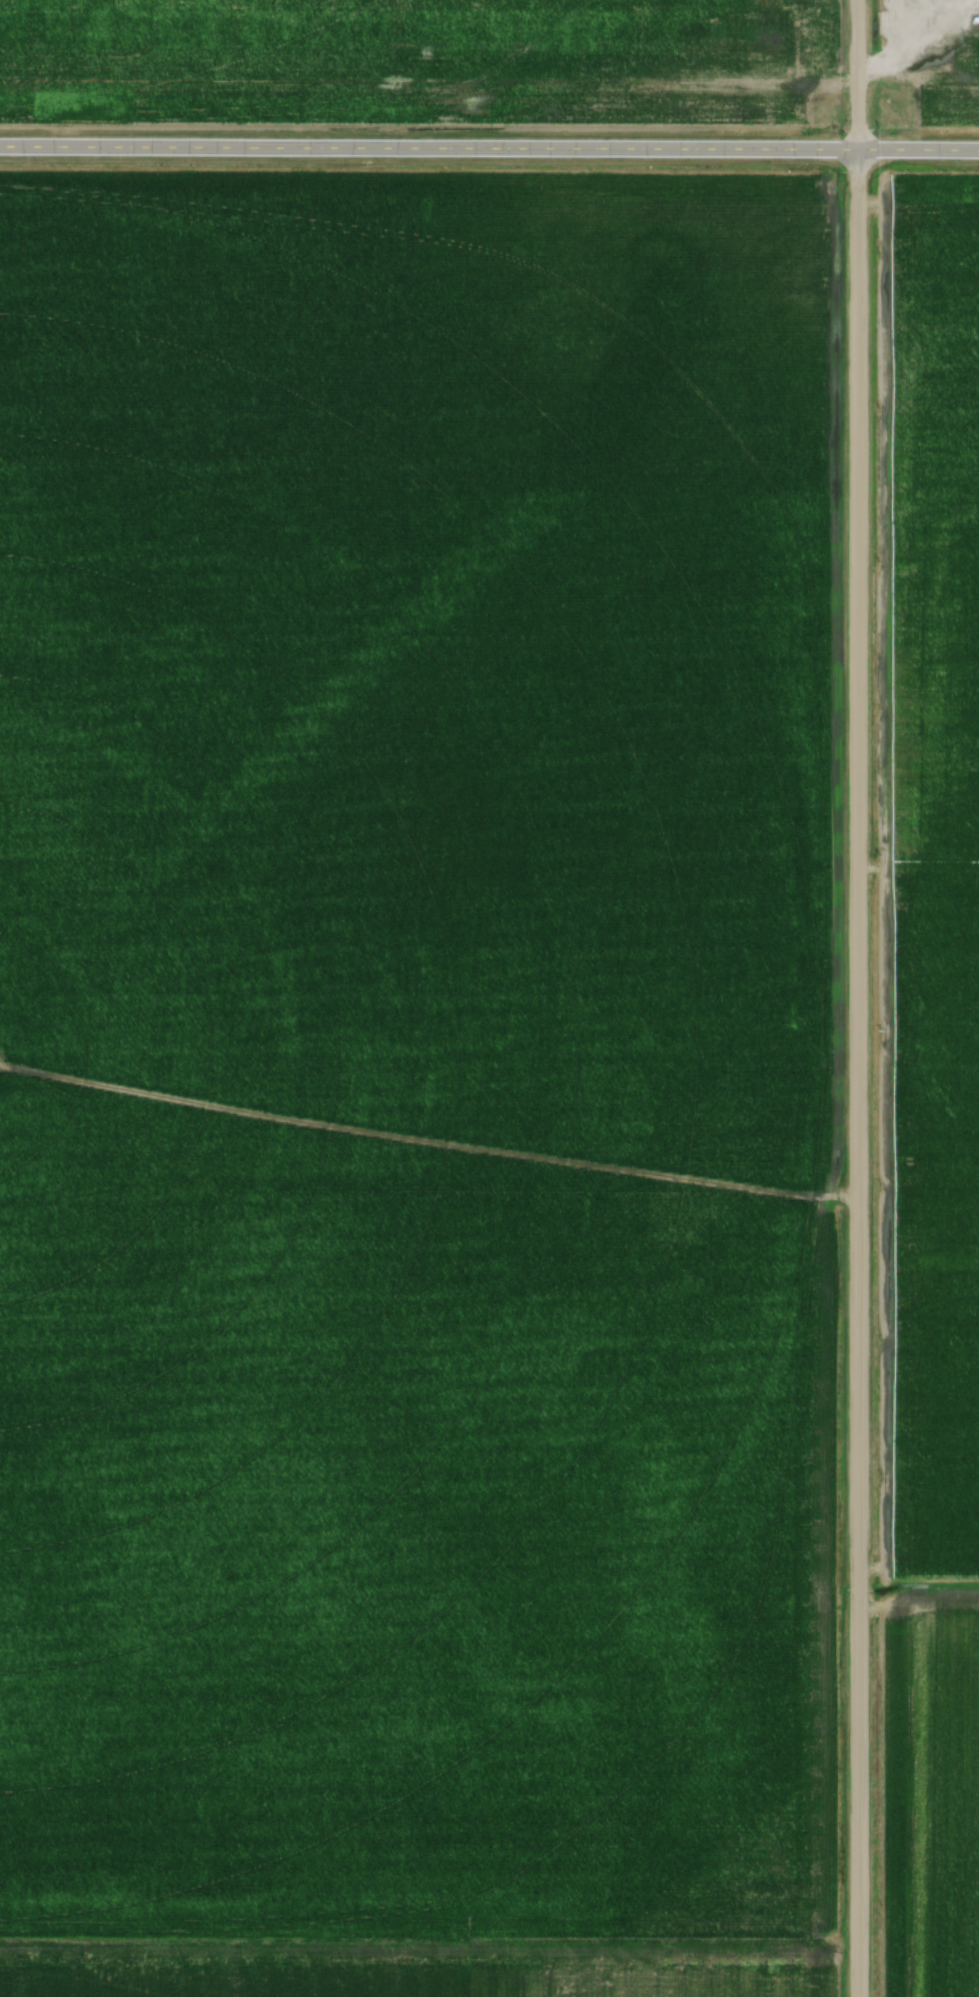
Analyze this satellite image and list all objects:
building: (935, 65)
road: (943, 76)
road: (489, 153)
road: (857, 998)
crop: (417, 1063)

